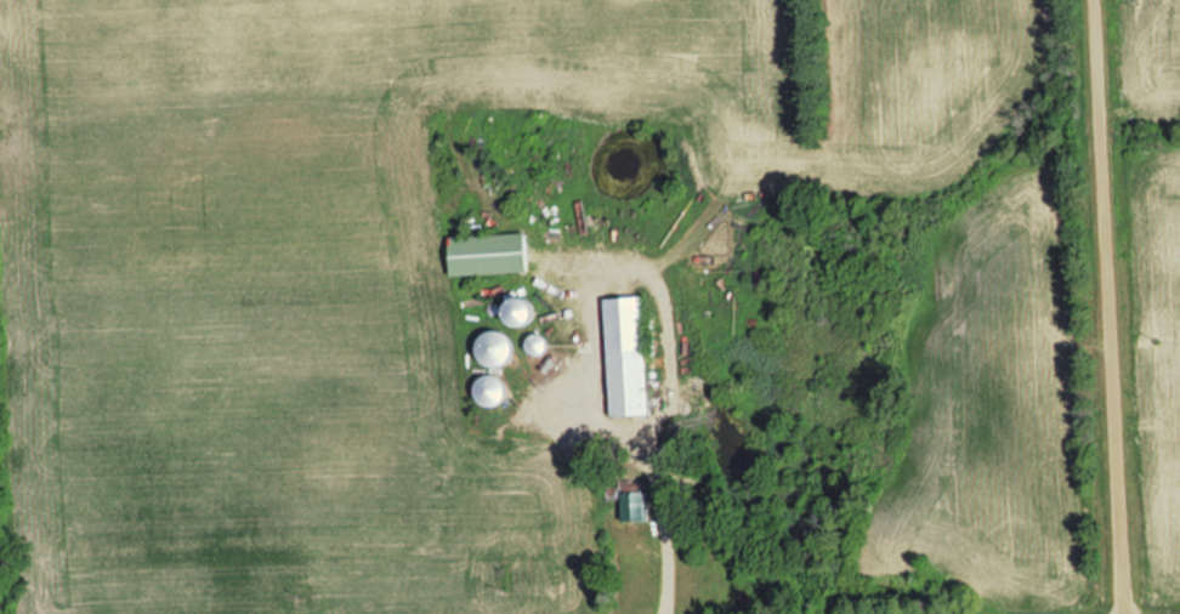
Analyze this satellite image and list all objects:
building: (492, 255)
road: (1112, 307)
building: (526, 312)
building: (540, 345)
building: (499, 349)
building: (629, 357)
building: (493, 391)
building: (632, 504)

